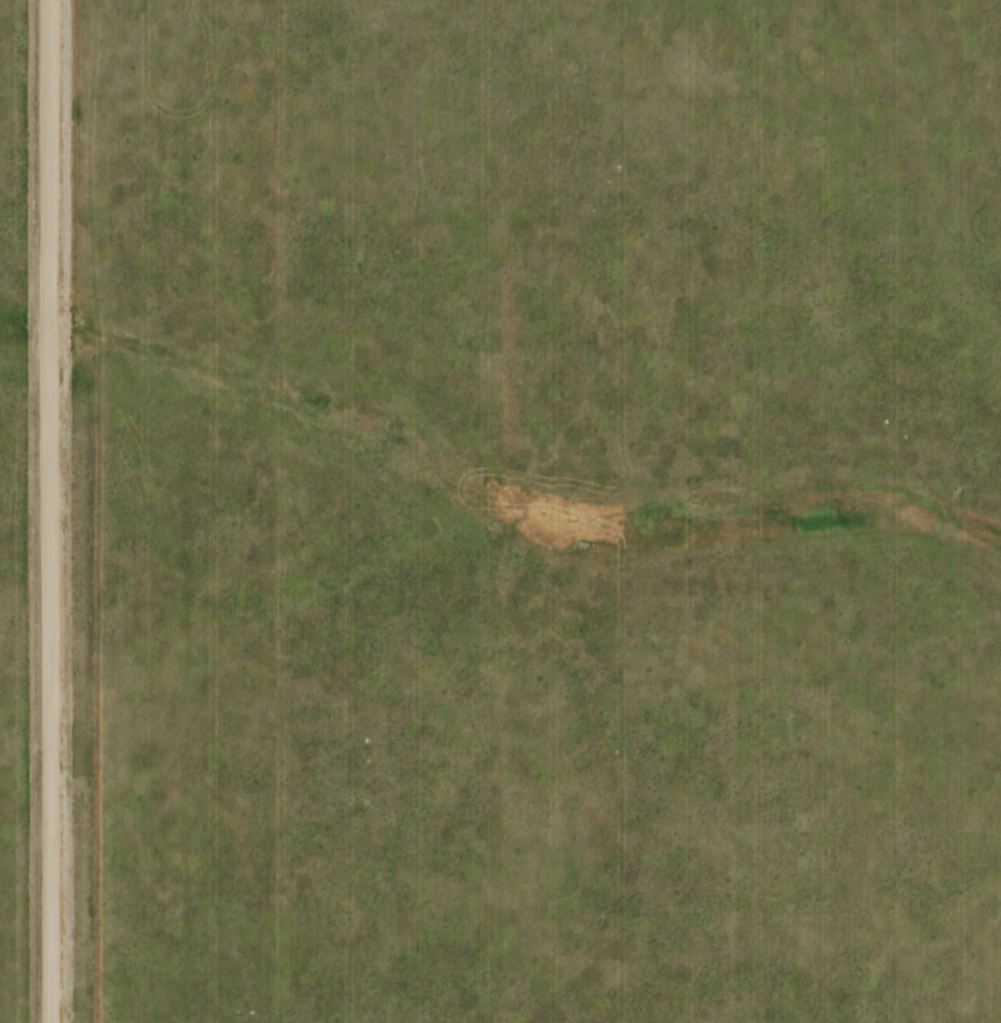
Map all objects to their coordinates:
road: (47, 511)

